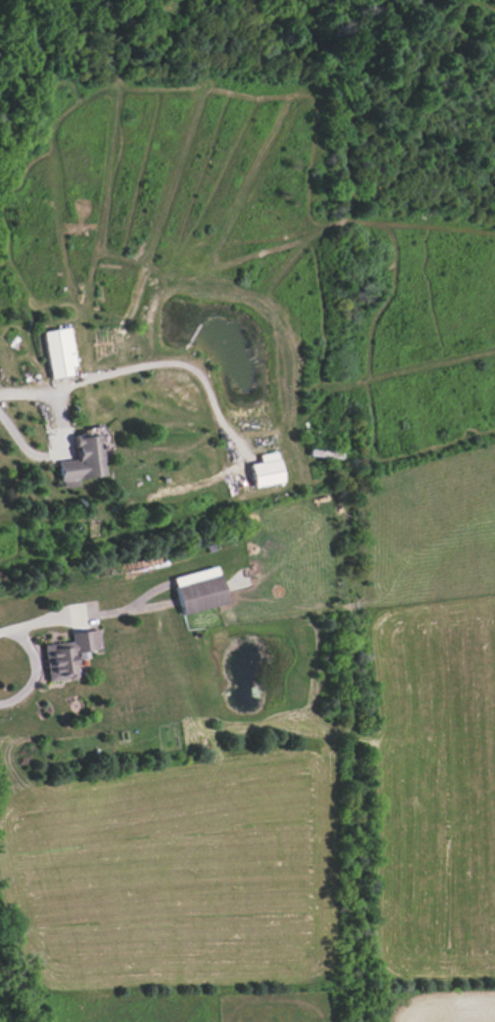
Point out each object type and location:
building: (59, 352)
road: (122, 371)
road: (49, 456)
building: (84, 458)
building: (265, 470)
crop: (432, 480)
building: (200, 594)
building: (68, 654)
road: (34, 668)

